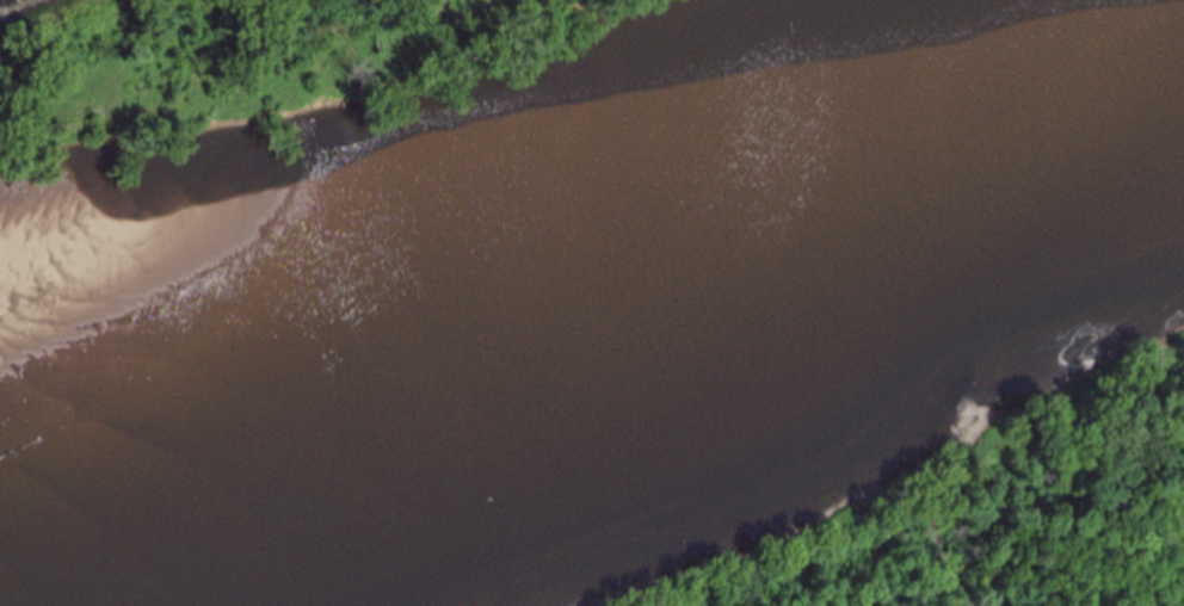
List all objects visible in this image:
river: (655, 406)
park: (758, 426)

